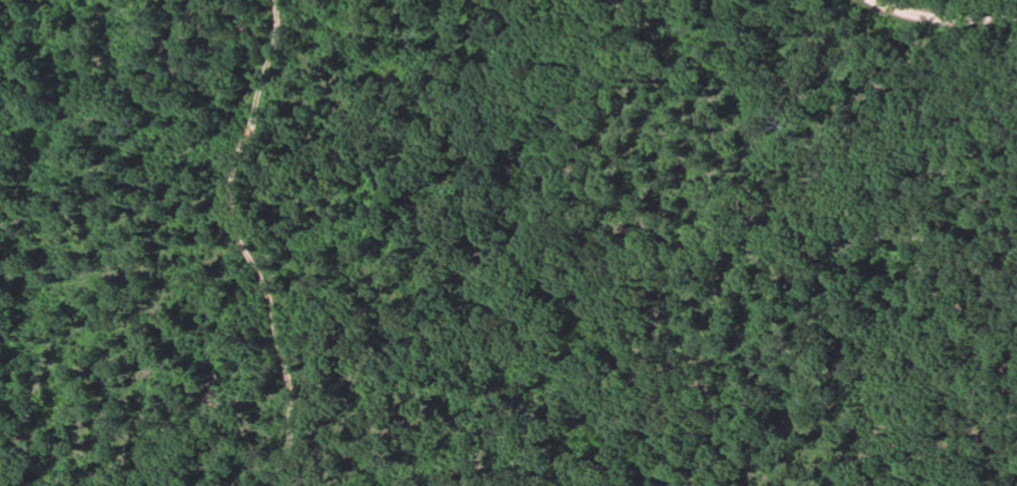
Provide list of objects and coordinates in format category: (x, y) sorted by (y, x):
road: (938, 29)

